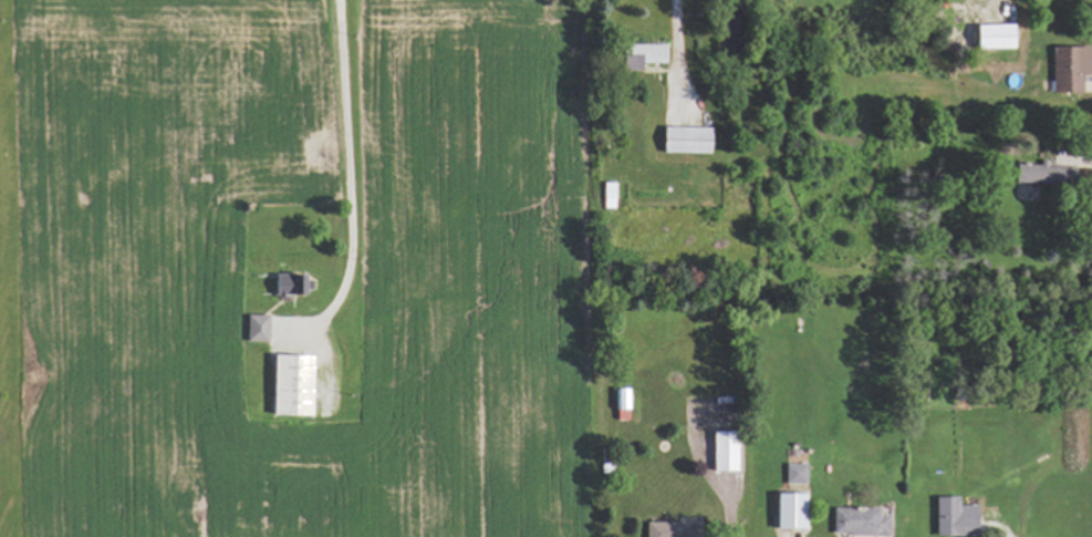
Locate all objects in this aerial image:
building: (990, 35)
building: (638, 55)
building: (1065, 69)
building: (683, 140)
road: (349, 173)
building: (1028, 175)
building: (606, 195)
building: (285, 285)
building: (254, 328)
building: (289, 385)
building: (620, 404)
building: (721, 451)
building: (793, 474)
building: (787, 510)
building: (950, 518)
building: (856, 521)
building: (665, 529)

